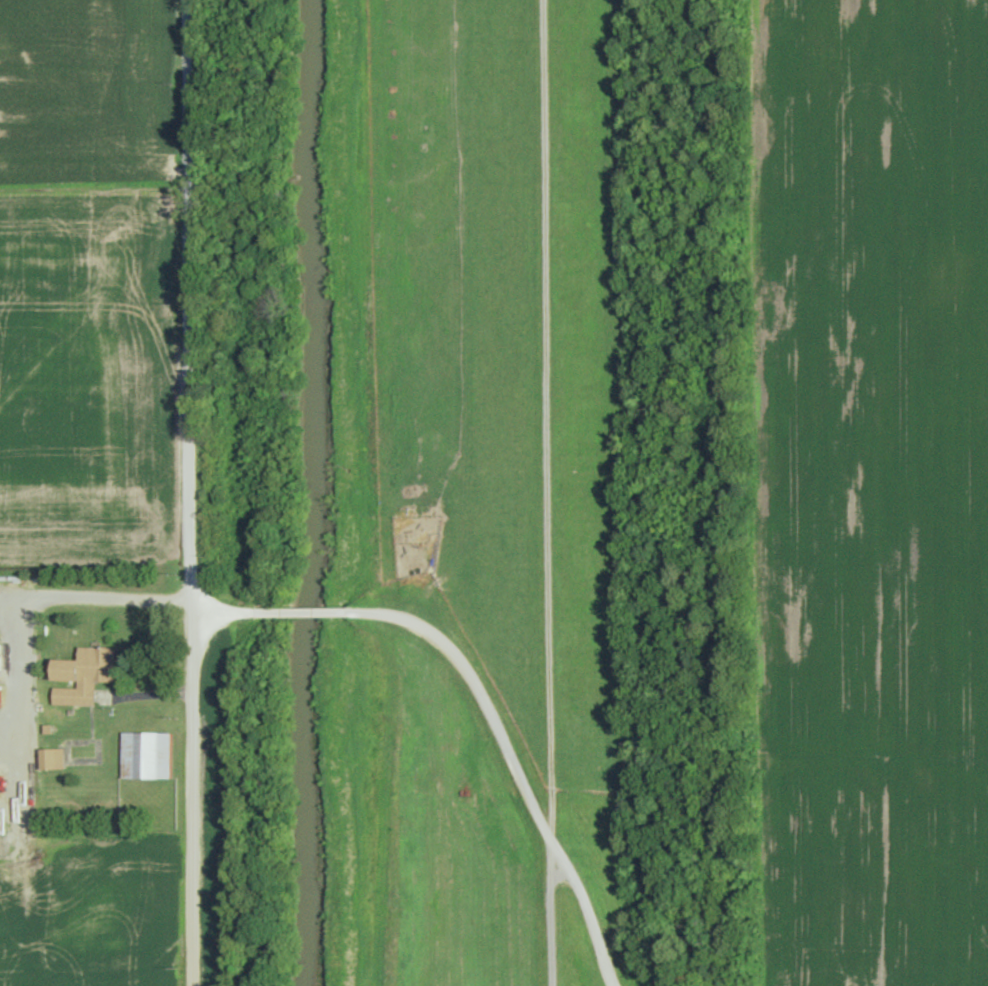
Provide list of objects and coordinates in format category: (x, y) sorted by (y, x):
road: (549, 420)
road: (192, 492)
building: (424, 509)
building: (1, 662)
building: (88, 676)
road: (479, 694)
building: (2, 698)
building: (416, 708)
building: (150, 757)
building: (57, 760)
road: (29, 771)
road: (552, 922)

